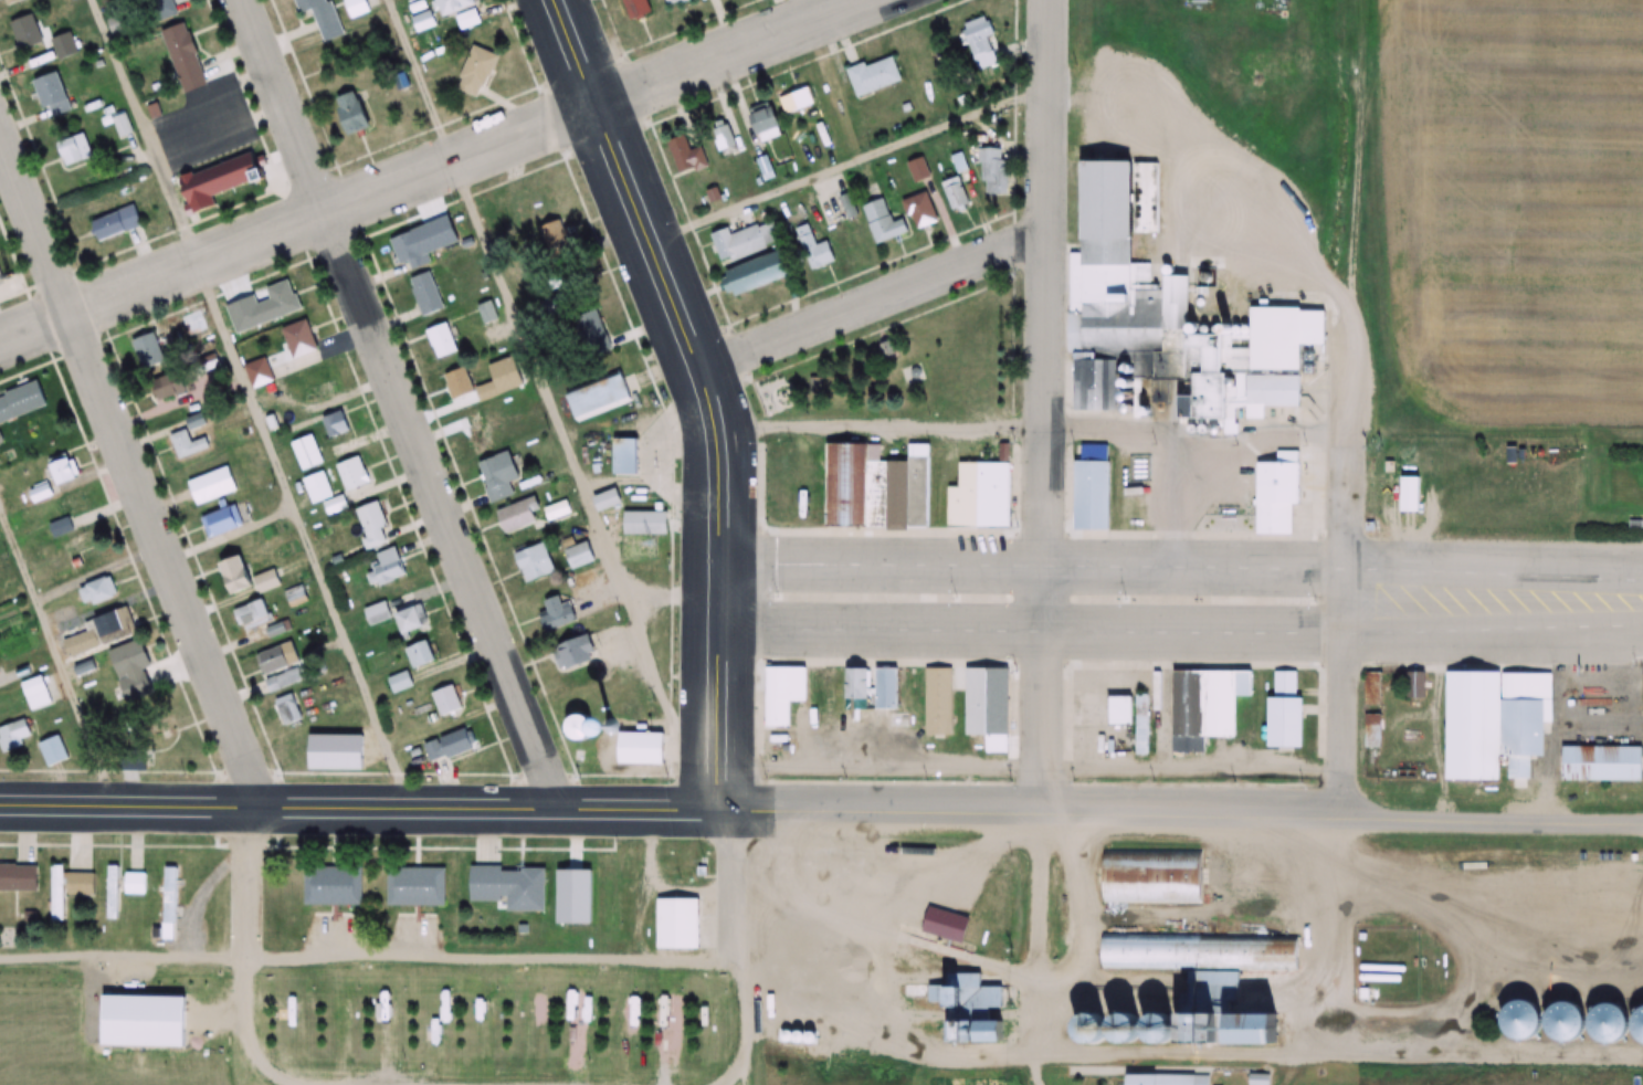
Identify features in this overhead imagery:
building: (11, 1)
building: (674, 1)
building: (453, 6)
building: (164, 7)
building: (356, 7)
building: (636, 9)
building: (317, 11)
building: (27, 32)
building: (979, 42)
building: (63, 46)
building: (186, 57)
building: (348, 60)
building: (475, 72)
building: (874, 76)
building: (52, 95)
building: (797, 101)
building: (357, 113)
building: (767, 124)
building: (728, 144)
building: (74, 150)
building: (687, 156)
road: (846, 161)
building: (919, 170)
building: (997, 172)
road: (453, 177)
building: (218, 181)
building: (1100, 190)
building: (957, 193)
building: (846, 207)
building: (923, 211)
building: (115, 222)
building: (885, 222)
building: (551, 238)
building: (747, 241)
building: (411, 249)
building: (815, 249)
road: (486, 265)
building: (760, 273)
building: (425, 293)
road: (871, 299)
building: (277, 303)
building: (554, 305)
building: (485, 312)
building: (591, 334)
building: (442, 340)
building: (148, 351)
building: (286, 355)
building: (316, 381)
building: (468, 386)
road: (705, 393)
building: (601, 394)
building: (21, 402)
road: (249, 405)
road: (390, 405)
building: (1189, 407)
building: (41, 423)
building: (336, 424)
building: (475, 433)
building: (189, 438)
building: (307, 452)
building: (629, 456)
building: (64, 472)
building: (354, 474)
building: (499, 476)
building: (843, 478)
building: (212, 485)
building: (560, 488)
building: (40, 492)
building: (323, 493)
building: (1412, 494)
building: (609, 501)
building: (969, 510)
building: (69, 513)
building: (522, 516)
building: (223, 522)
building: (373, 524)
building: (645, 524)
road: (1040, 526)
road: (159, 527)
building: (76, 544)
building: (581, 556)
building: (538, 562)
road: (1167, 563)
building: (387, 566)
building: (247, 578)
road: (1626, 588)
building: (98, 591)
building: (295, 597)
road: (1344, 611)
road: (1629, 611)
building: (378, 613)
building: (559, 613)
building: (252, 615)
building: (411, 620)
building: (114, 626)
building: (276, 630)
road: (1168, 630)
building: (82, 643)
building: (580, 653)
building: (421, 655)
building: (277, 660)
road: (57, 664)
building: (0, 671)
building: (134, 672)
building: (287, 680)
building: (400, 682)
building: (856, 689)
building: (888, 689)
building: (1375, 689)
building: (38, 692)
building: (784, 694)
building: (449, 700)
building: (939, 702)
building: (987, 702)
building: (1205, 707)
building: (288, 710)
building: (1289, 714)
building: (1133, 718)
building: (1498, 725)
building: (1375, 731)
building: (14, 735)
building: (450, 746)
building: (312, 748)
building: (53, 751)
building: (1604, 763)
road: (359, 812)
road: (1181, 817)
building: (1150, 874)
building: (18, 877)
building: (134, 883)
building: (508, 884)
building: (334, 885)
building: (417, 886)
building: (67, 888)
building: (112, 892)
building: (167, 903)
building: (610, 905)
building: (1000, 915)
building: (683, 925)
road: (739, 948)
building: (1197, 948)
building: (1437, 966)
building: (1382, 972)
building: (978, 994)
building: (148, 1015)
road: (253, 1016)
building: (671, 1022)
building: (1561, 1022)
building: (577, 1023)
building: (1179, 1079)

